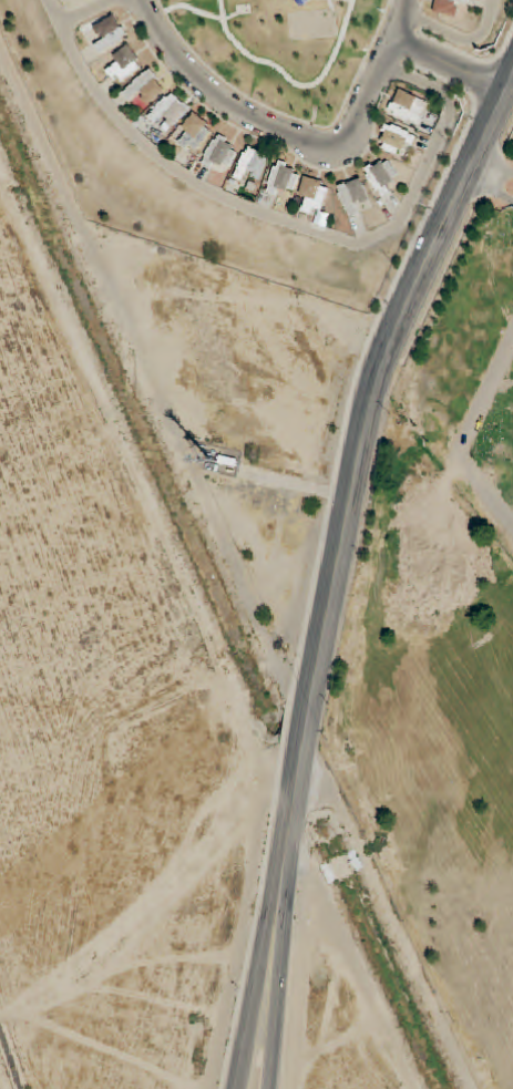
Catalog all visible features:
building: (448, 6)
road: (84, 11)
building: (110, 33)
road: (460, 37)
building: (124, 64)
road: (451, 65)
building: (144, 88)
building: (409, 106)
building: (170, 112)
building: (193, 134)
road: (291, 138)
building: (394, 138)
building: (220, 154)
building: (252, 164)
building: (381, 175)
road: (491, 177)
building: (284, 178)
building: (352, 195)
building: (312, 196)
road: (281, 219)
park: (472, 370)
road: (372, 422)
road: (267, 939)
road: (286, 941)

